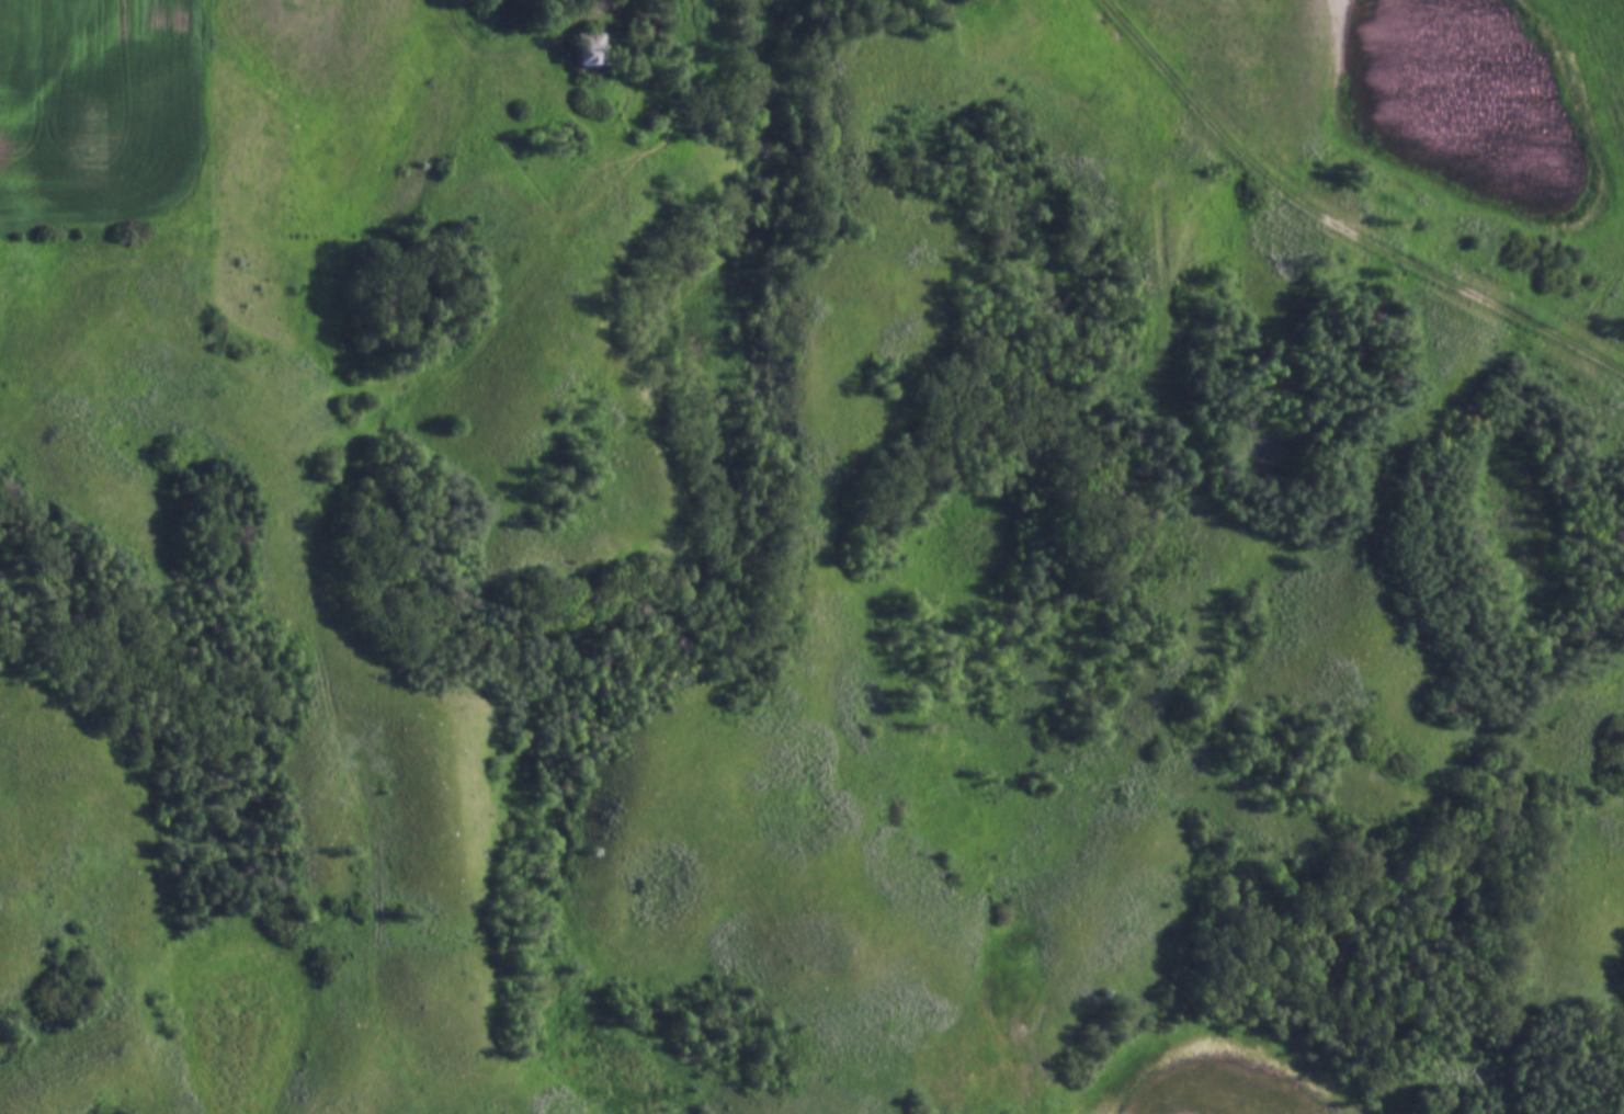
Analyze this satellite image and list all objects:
road: (575, 18)
building: (593, 49)
road: (1341, 219)

